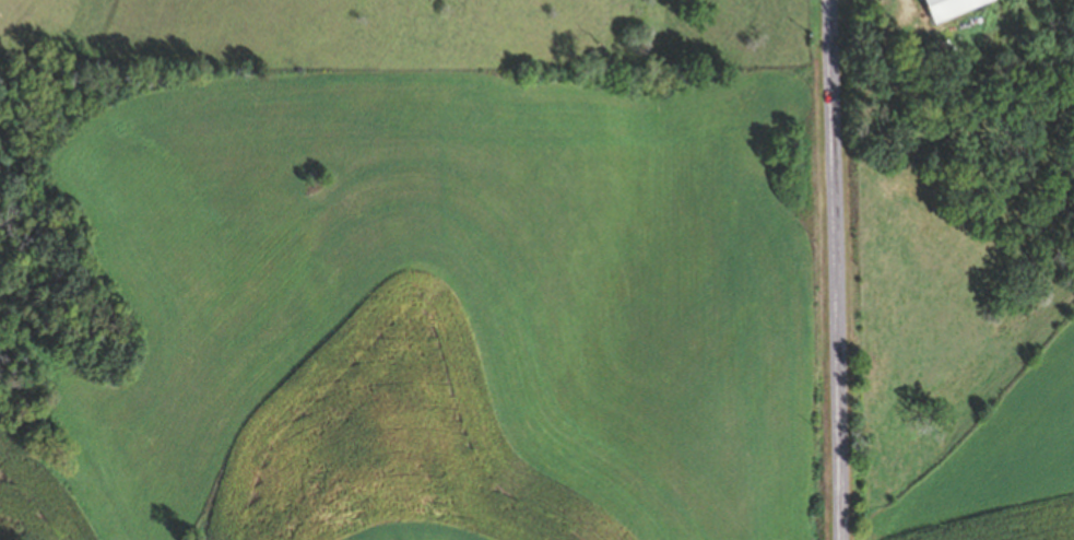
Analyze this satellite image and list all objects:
building: (954, 7)
road: (836, 270)

